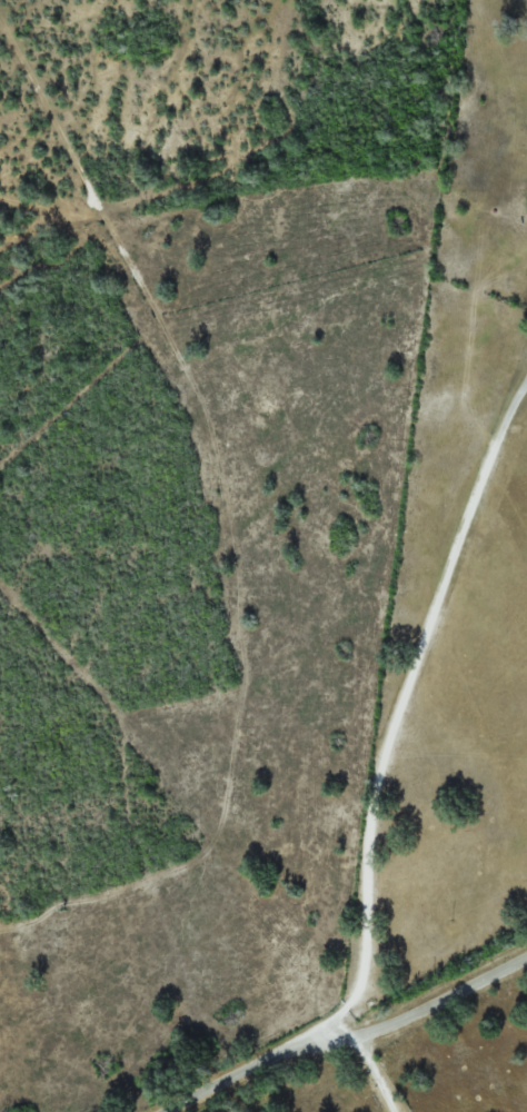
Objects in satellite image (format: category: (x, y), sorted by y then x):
road: (402, 683)
road: (381, 1044)
road: (250, 1073)

